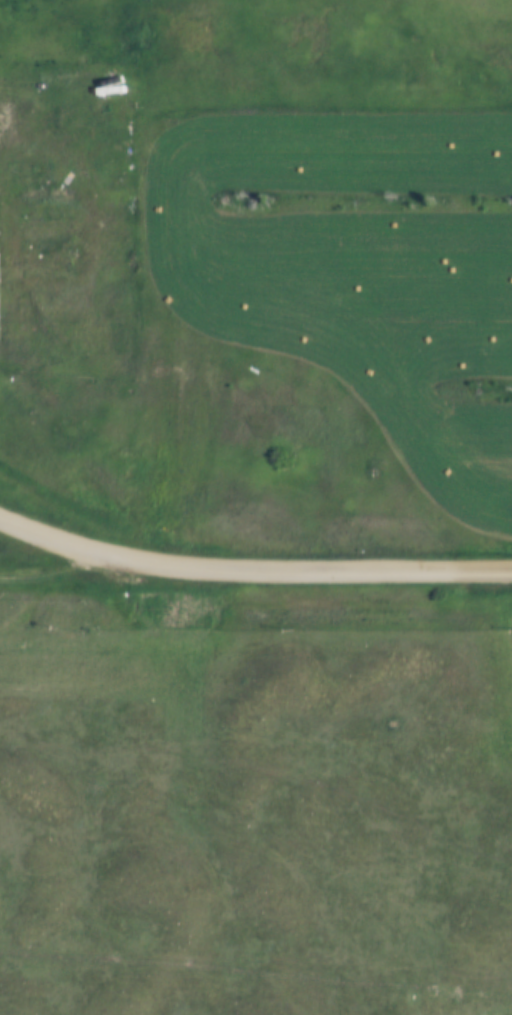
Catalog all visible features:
road: (251, 572)

